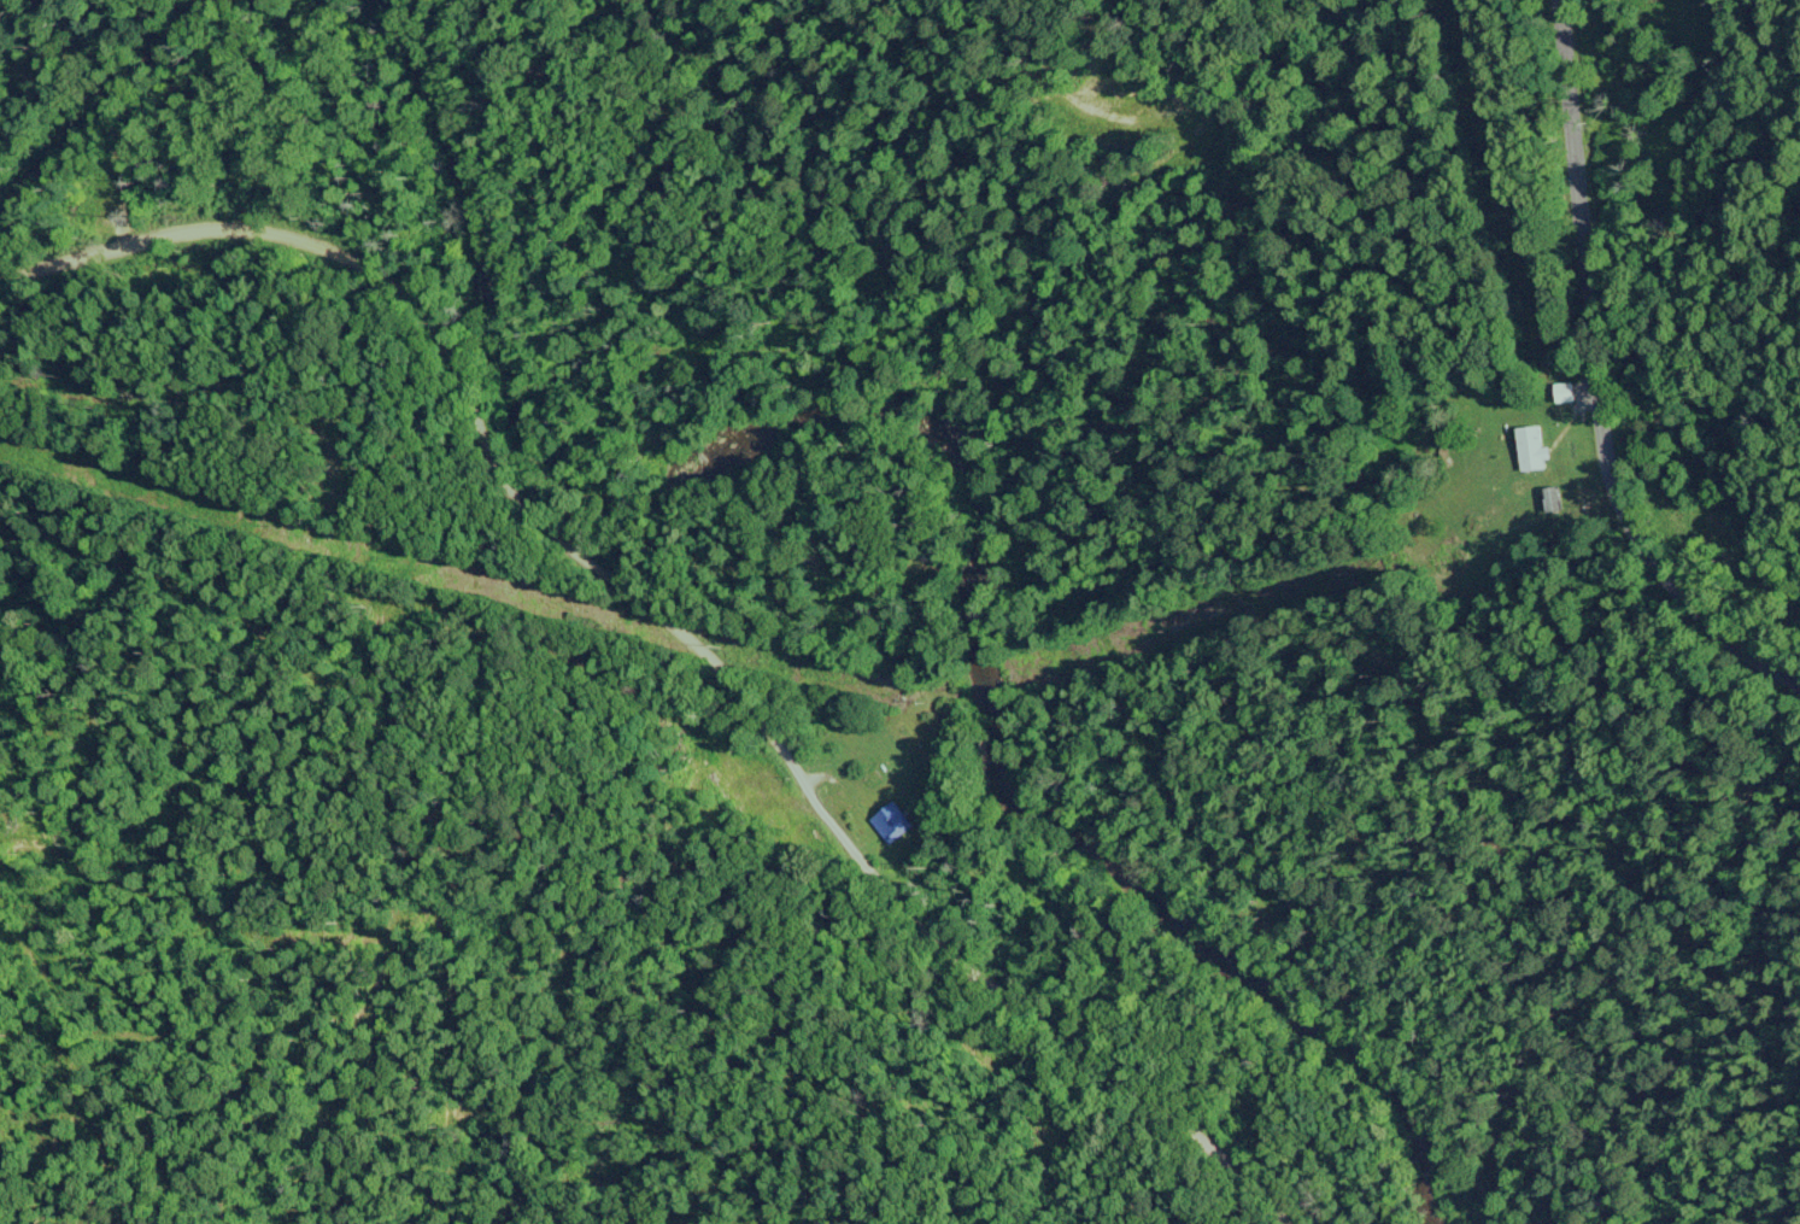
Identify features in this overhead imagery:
river: (90, 103)
road: (1595, 382)
building: (1534, 445)
river: (956, 453)
road: (678, 623)

